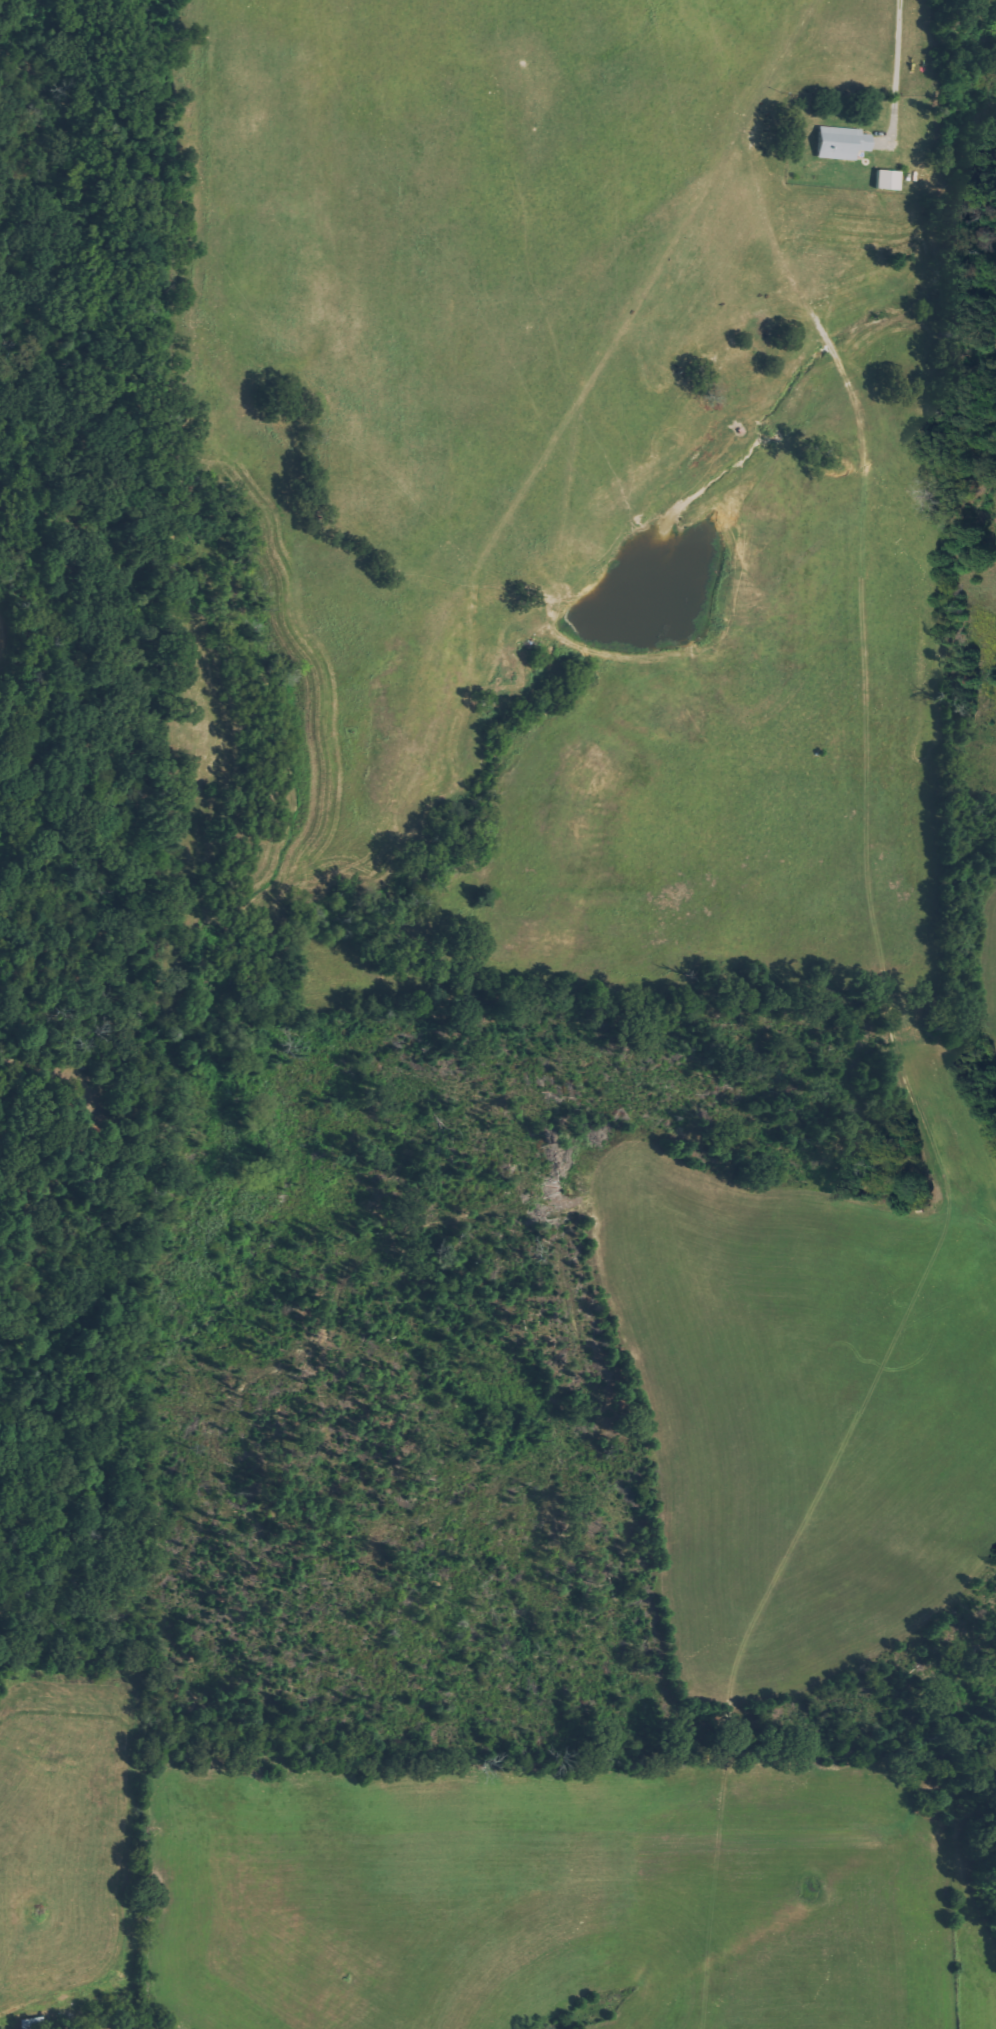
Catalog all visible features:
road: (896, 12)
building: (840, 143)
building: (885, 180)

